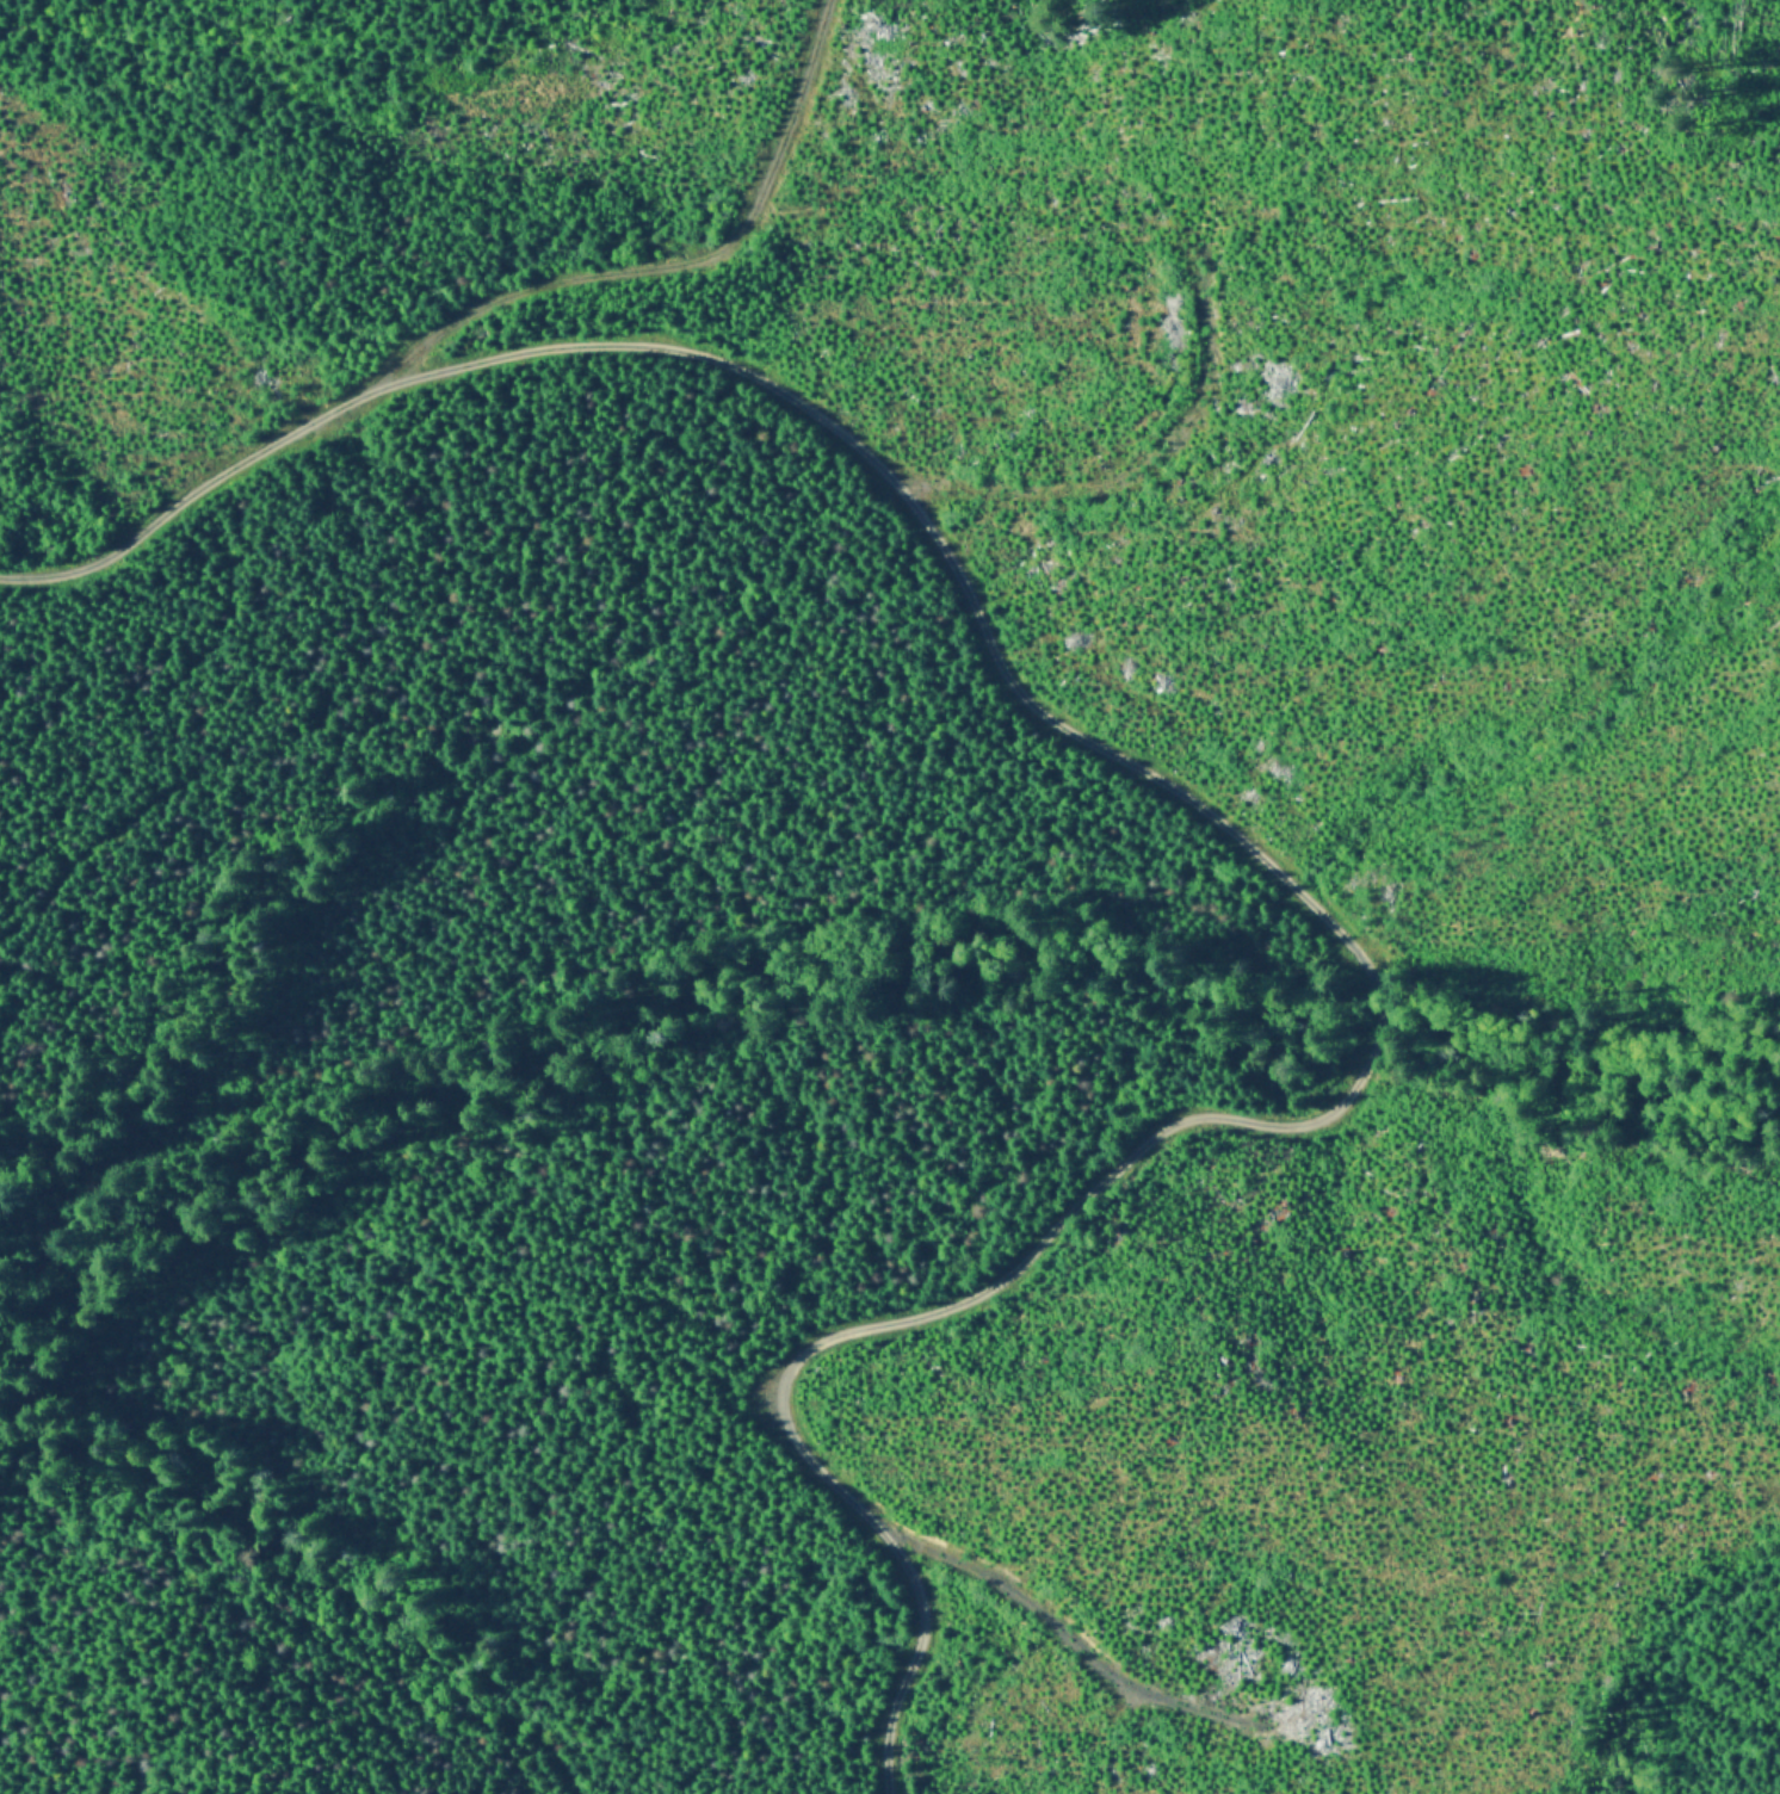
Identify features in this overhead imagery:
road: (1212, 817)

